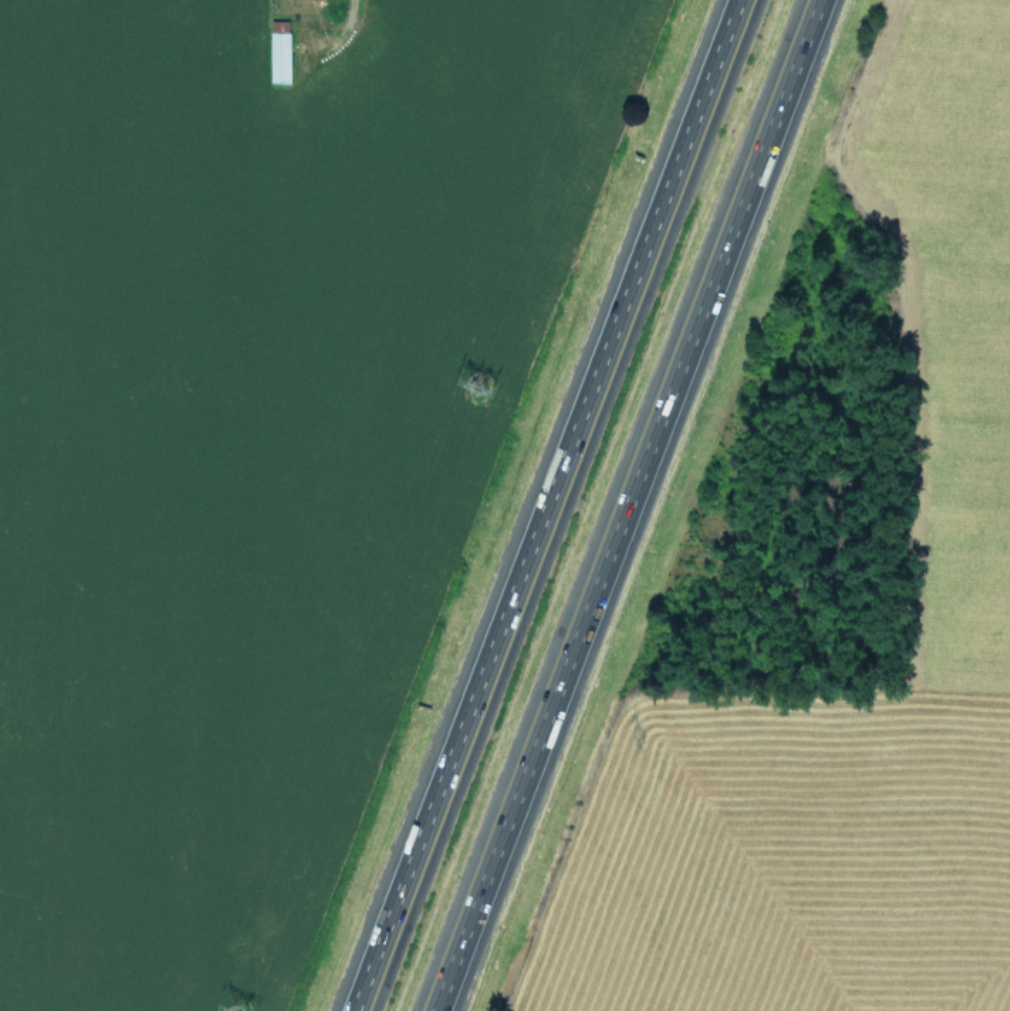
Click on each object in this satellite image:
building: (279, 51)
power tower: (474, 387)
crop: (226, 436)
road: (545, 505)
road: (625, 505)
crop: (837, 607)

